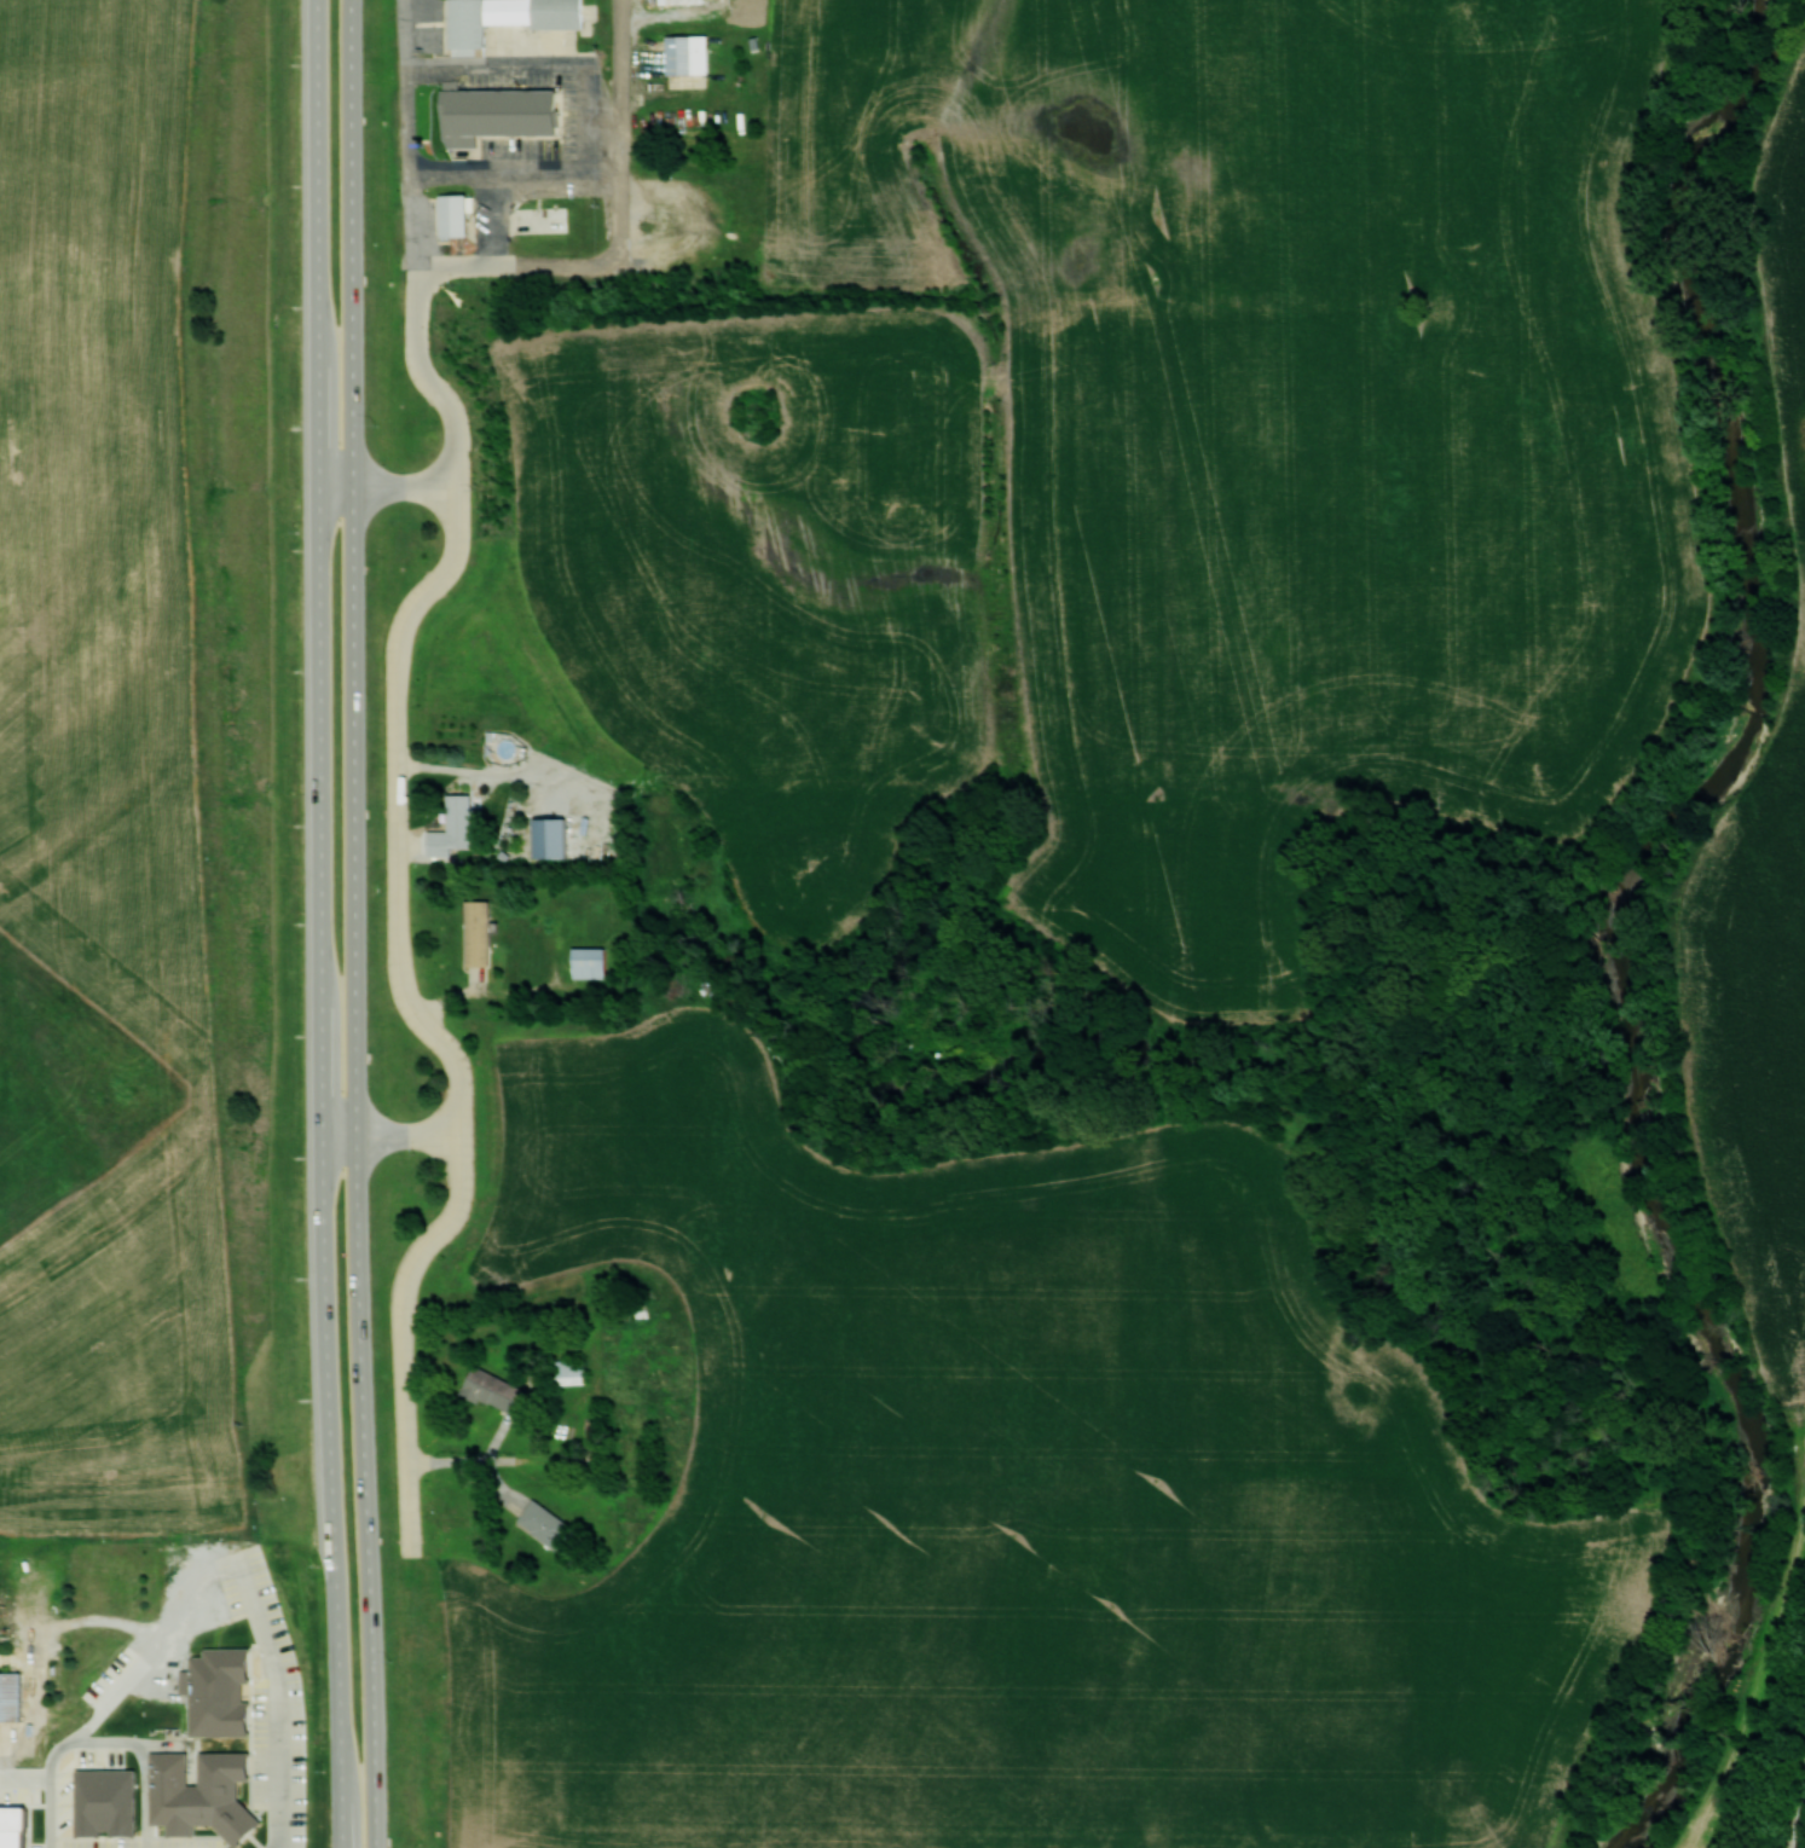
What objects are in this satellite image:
building: (685, 1)
building: (510, 18)
building: (692, 53)
building: (502, 112)
road: (403, 131)
road: (613, 132)
building: (459, 214)
building: (548, 218)
road: (509, 262)
road: (386, 488)
road: (354, 688)
road: (322, 691)
building: (464, 821)
crop: (1763, 821)
building: (515, 851)
road: (389, 902)
building: (482, 933)
building: (592, 962)
road: (386, 1124)
building: (572, 1372)
building: (499, 1391)
crop: (1016, 1504)
building: (550, 1525)
road: (371, 1611)
road: (339, 1615)
building: (13, 1695)
road: (277, 1698)
building: (206, 1794)
road: (52, 1806)
road: (1799, 1820)

